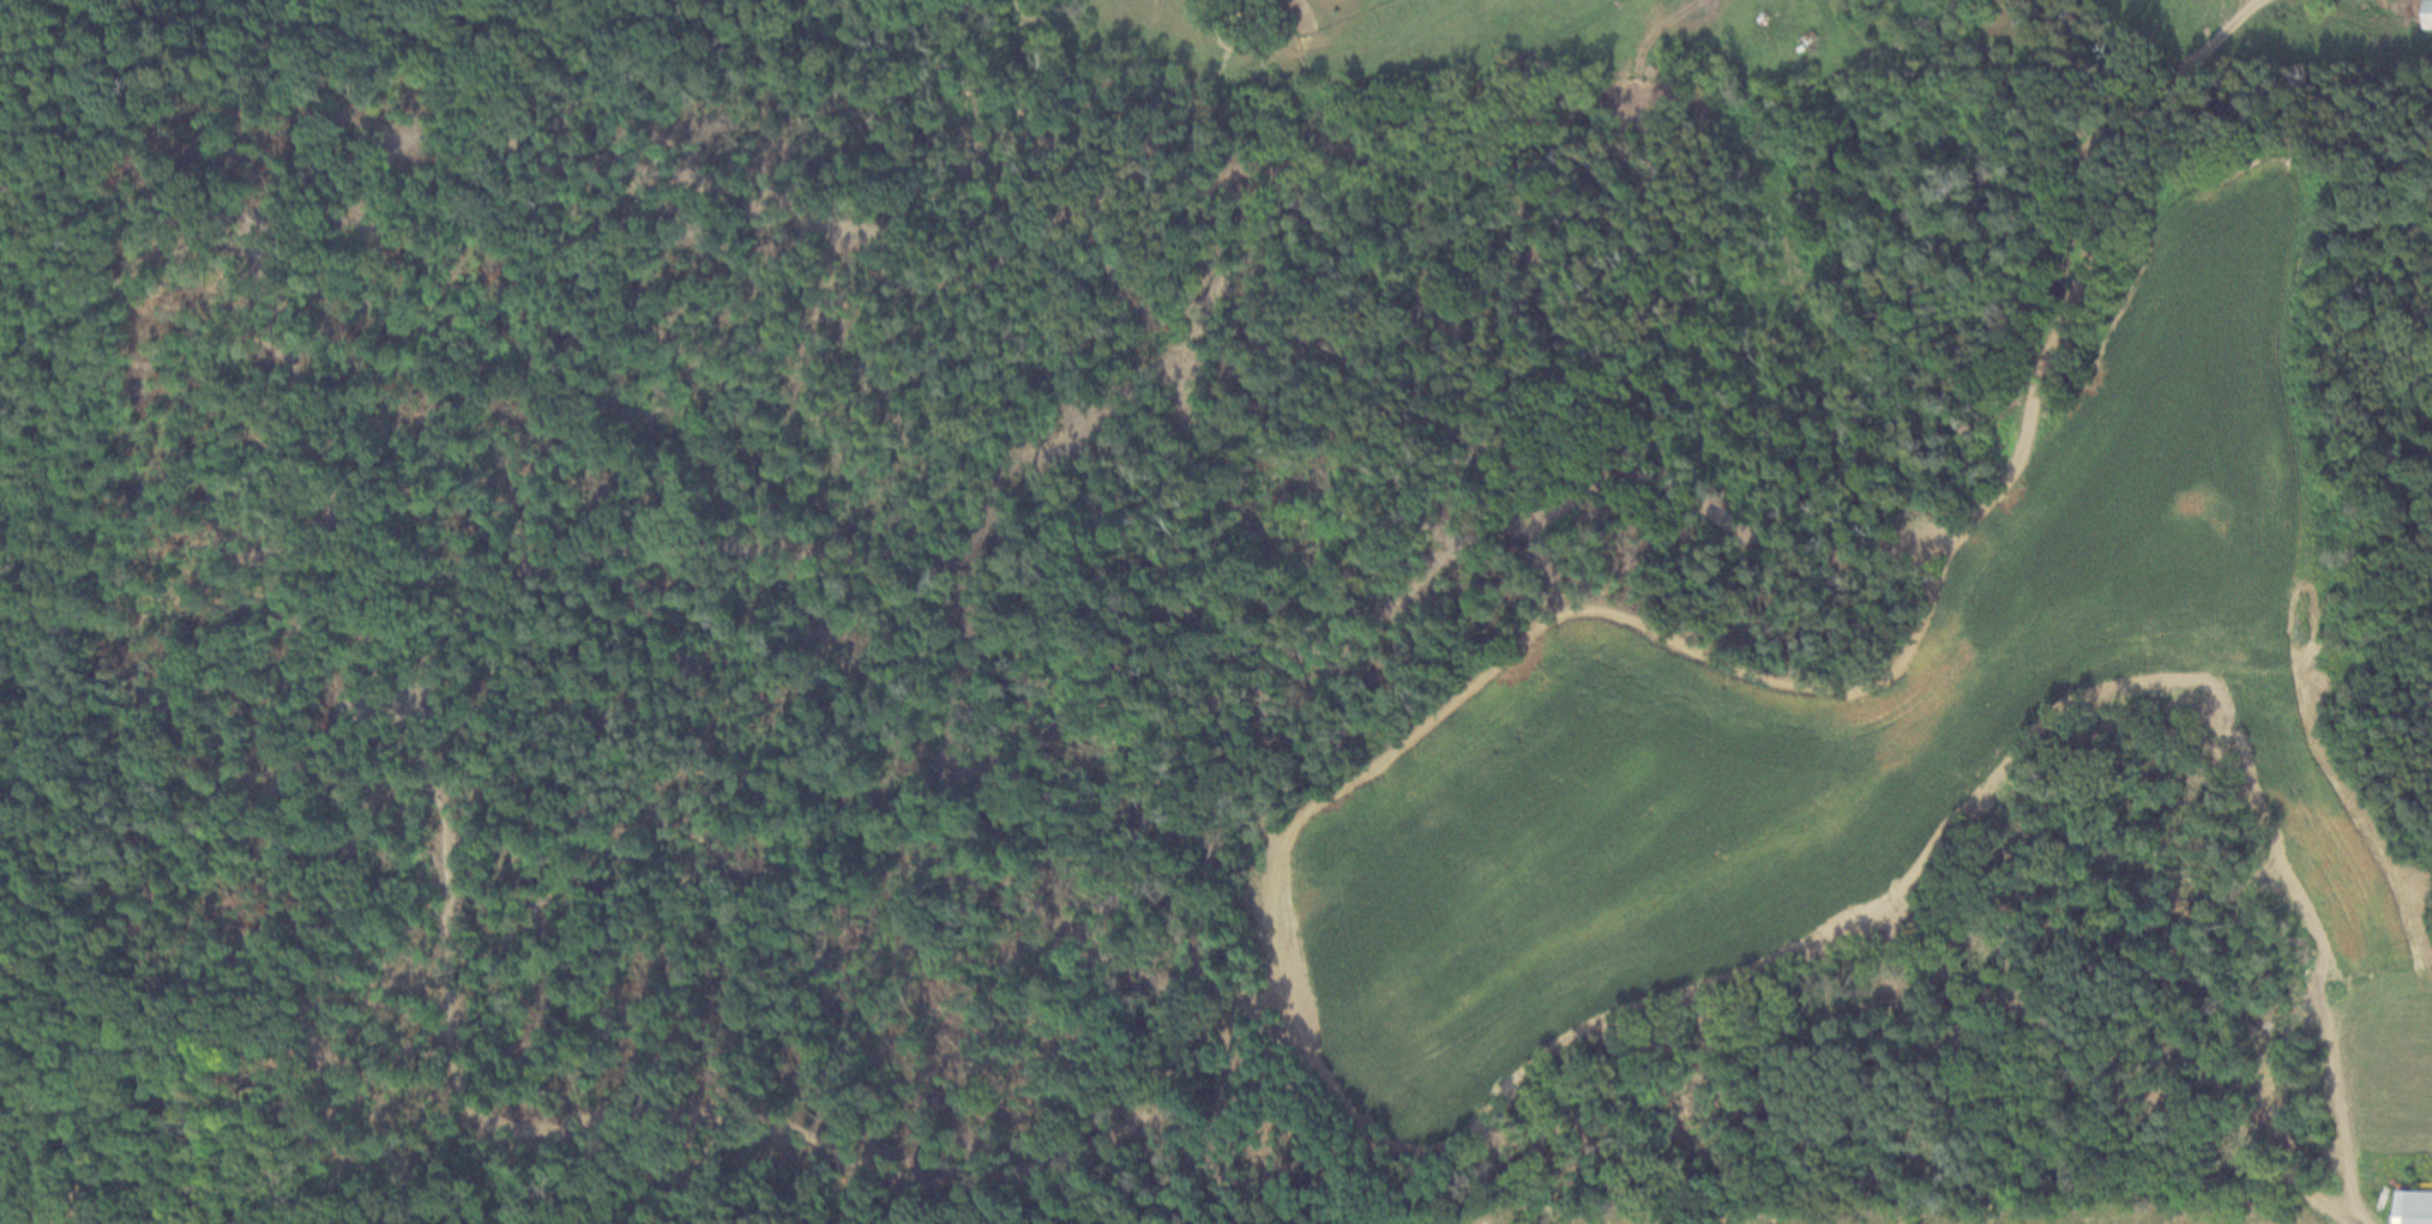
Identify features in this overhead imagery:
building: (2430, 13)
building: (2419, 1207)

